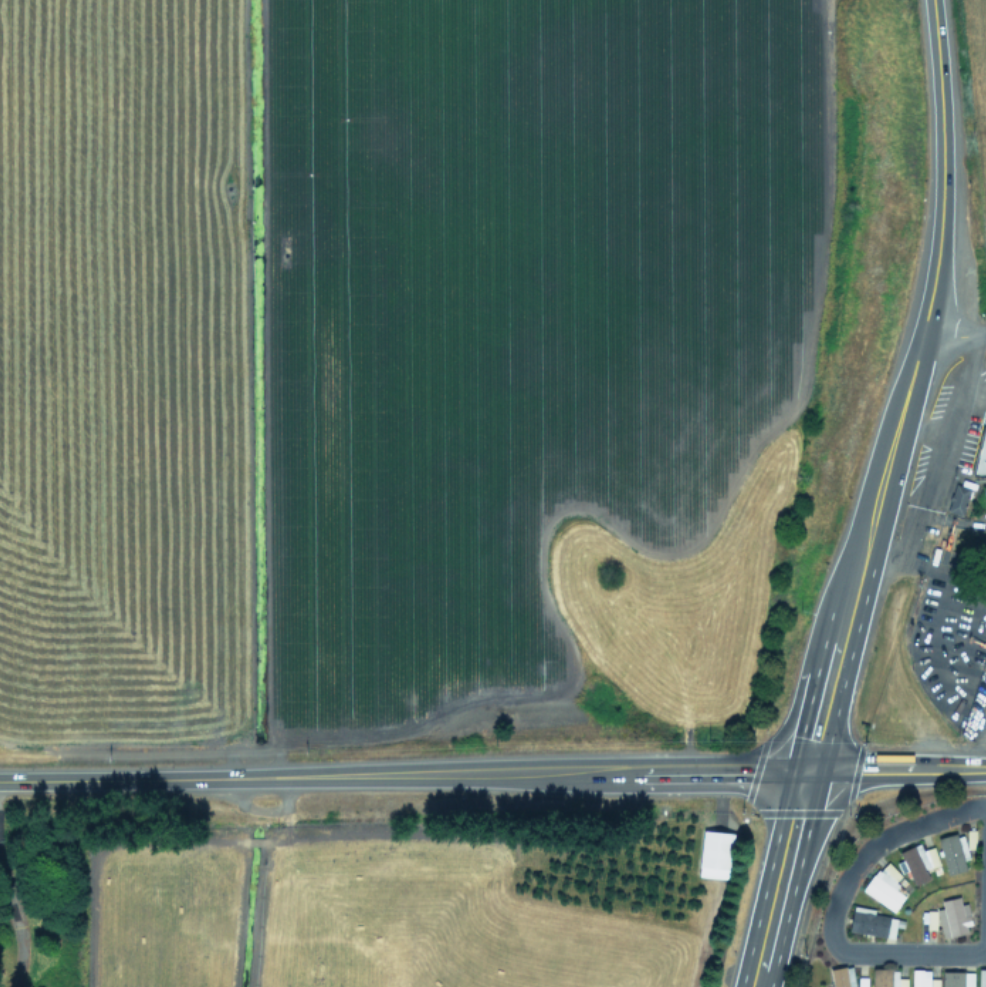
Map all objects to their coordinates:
road: (941, 165)
crop: (401, 319)
road: (954, 335)
building: (981, 457)
building: (958, 499)
road: (929, 515)
road: (861, 549)
road: (923, 567)
road: (785, 728)
road: (973, 733)
road: (895, 769)
traffic signals: (806, 771)
road: (674, 774)
road: (271, 778)
road: (824, 815)
road: (794, 820)
road: (876, 843)
building: (953, 852)
building: (715, 854)
building: (918, 862)
building: (885, 886)
building: (953, 917)
building: (930, 919)
building: (872, 922)
road: (15, 925)
road: (769, 928)
road: (985, 942)
road: (907, 953)
building: (982, 977)
building: (887, 978)
building: (923, 979)
building: (957, 979)

